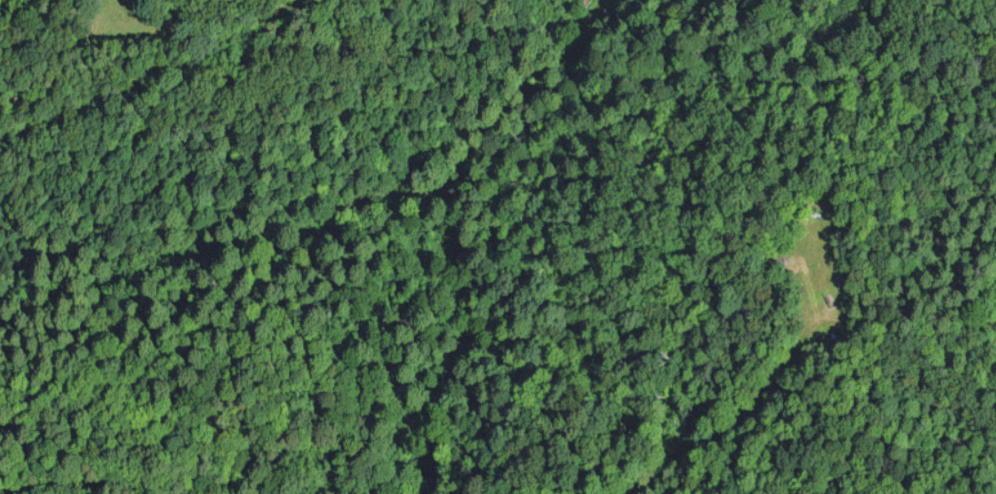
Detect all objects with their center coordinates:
road: (80, 92)

